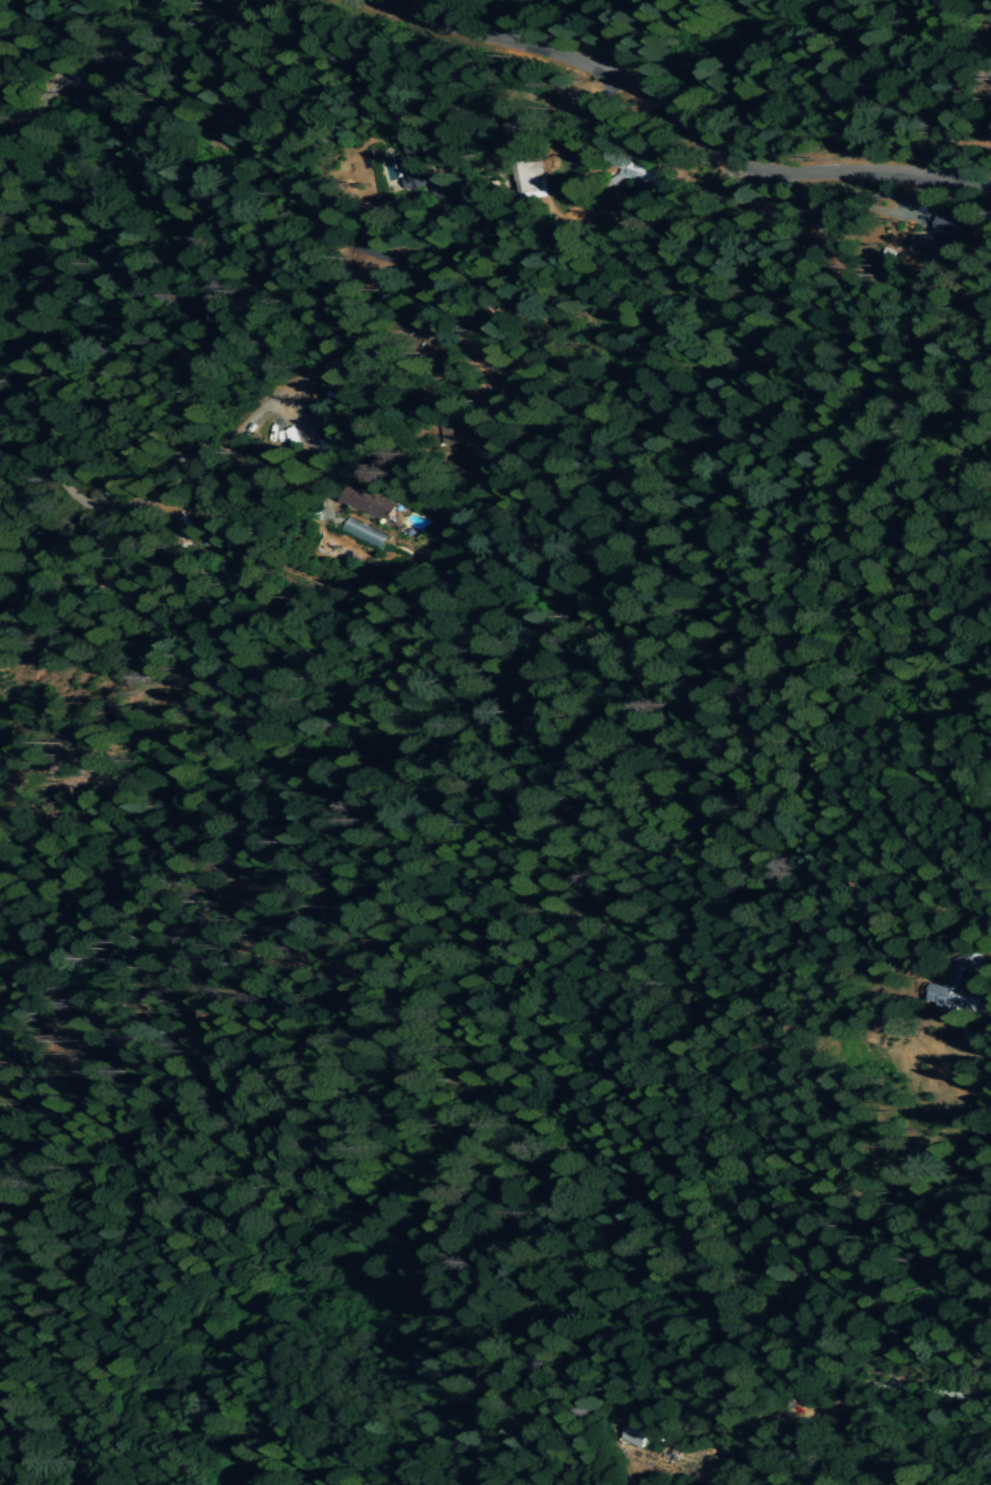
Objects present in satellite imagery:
road: (109, 51)
road: (682, 117)
building: (639, 176)
building: (534, 180)
road: (120, 222)
building: (940, 240)
building: (270, 430)
building: (370, 500)
building: (364, 533)
building: (634, 1434)

